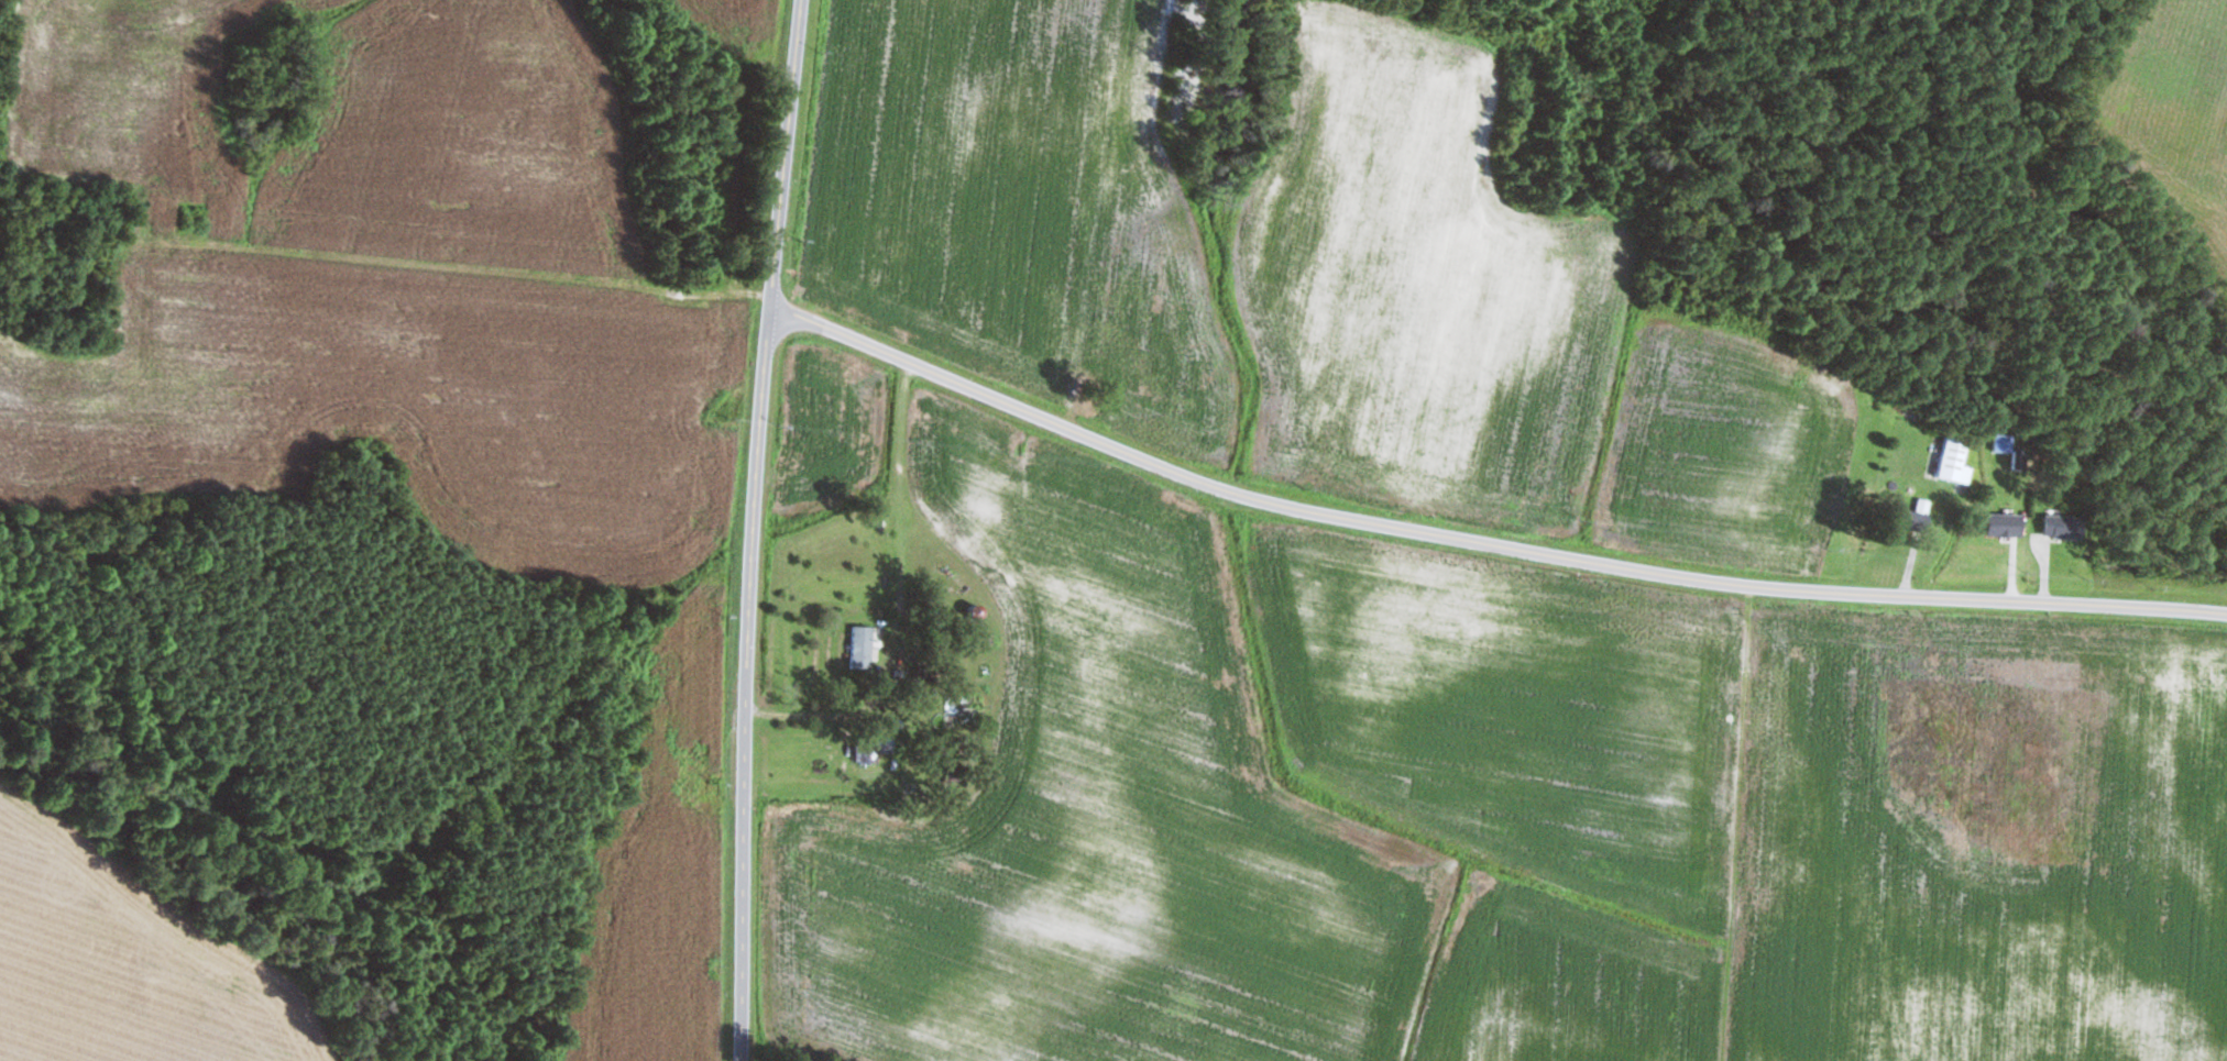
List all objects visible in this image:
road: (462, 265)
building: (2020, 460)
building: (1956, 461)
building: (1916, 520)
building: (2007, 523)
building: (2067, 527)
road: (760, 529)
road: (1480, 541)
building: (978, 611)
building: (863, 648)
building: (865, 752)

